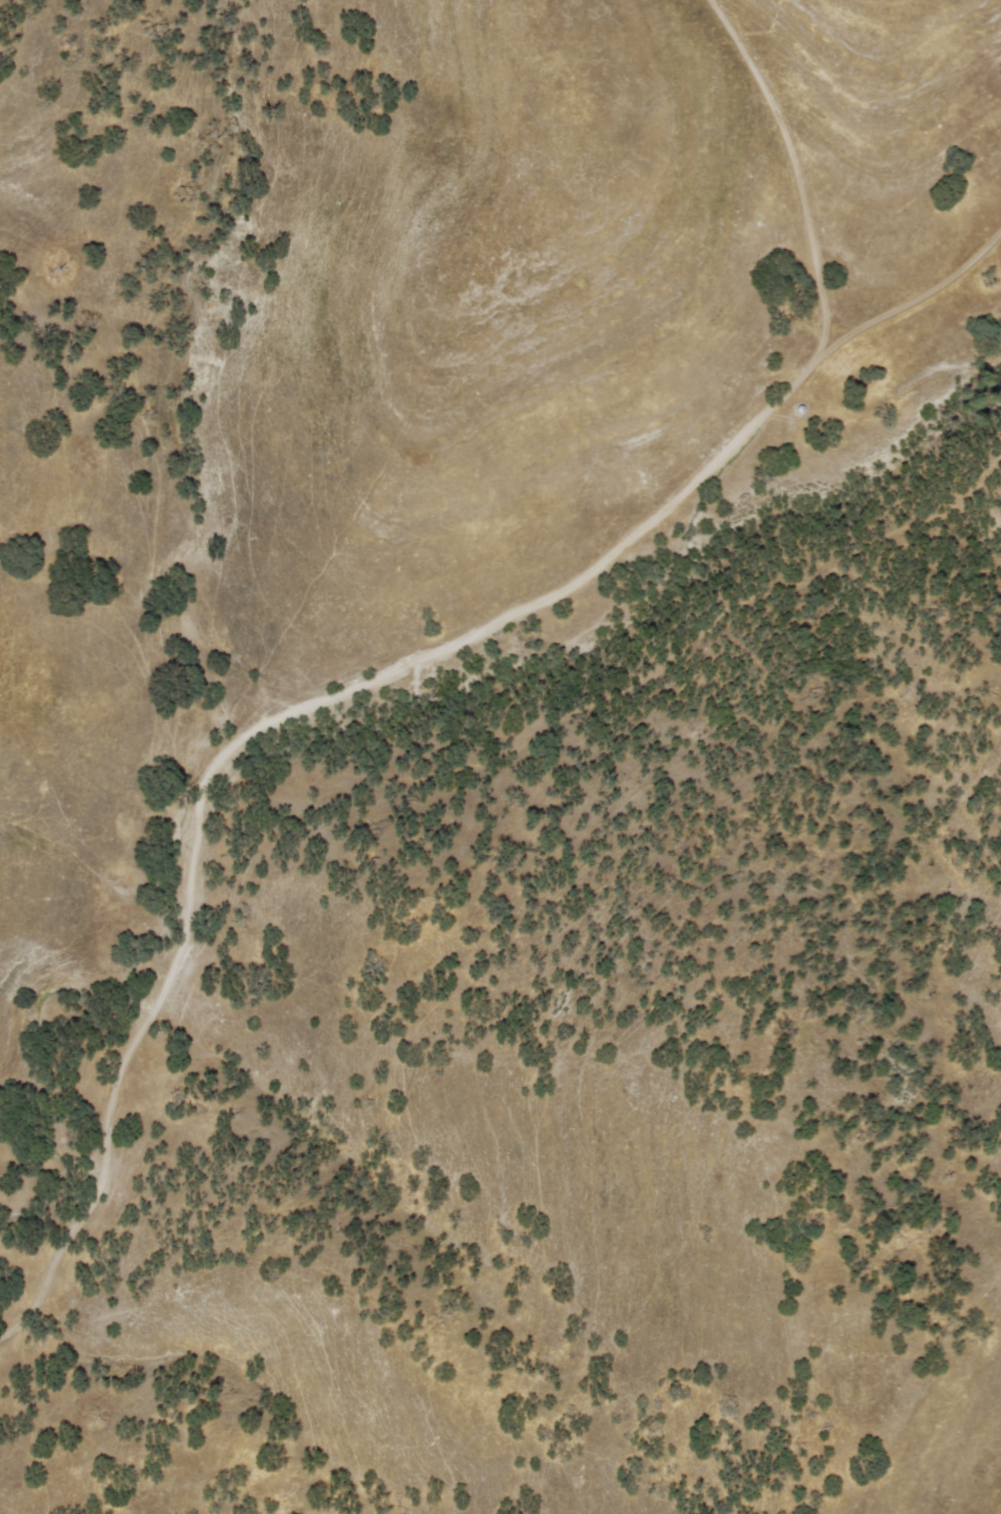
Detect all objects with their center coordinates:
road: (790, 162)
road: (365, 684)

